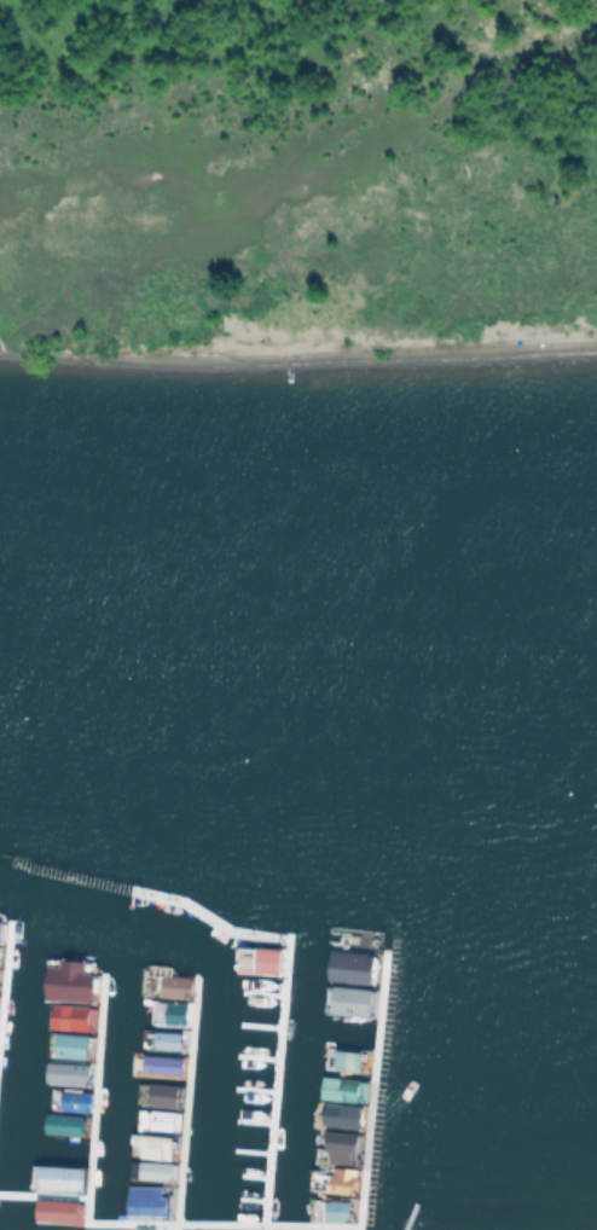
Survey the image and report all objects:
pier: (285, 941)
building: (268, 961)
pier: (5, 965)
building: (350, 965)
building: (69, 981)
building: (174, 986)
building: (350, 1000)
building: (69, 1016)
building: (348, 1029)
building: (166, 1039)
building: (71, 1046)
building: (342, 1060)
pier: (93, 1084)
building: (340, 1087)
building: (163, 1095)
pier: (184, 1098)
building: (341, 1114)
building: (342, 1147)
building: (62, 1177)
building: (342, 1179)
building: (145, 1201)
building: (56, 1209)
building: (336, 1209)
pier: (408, 1217)
pier: (303, 1223)
building: (144, 1224)
pier: (160, 1225)

